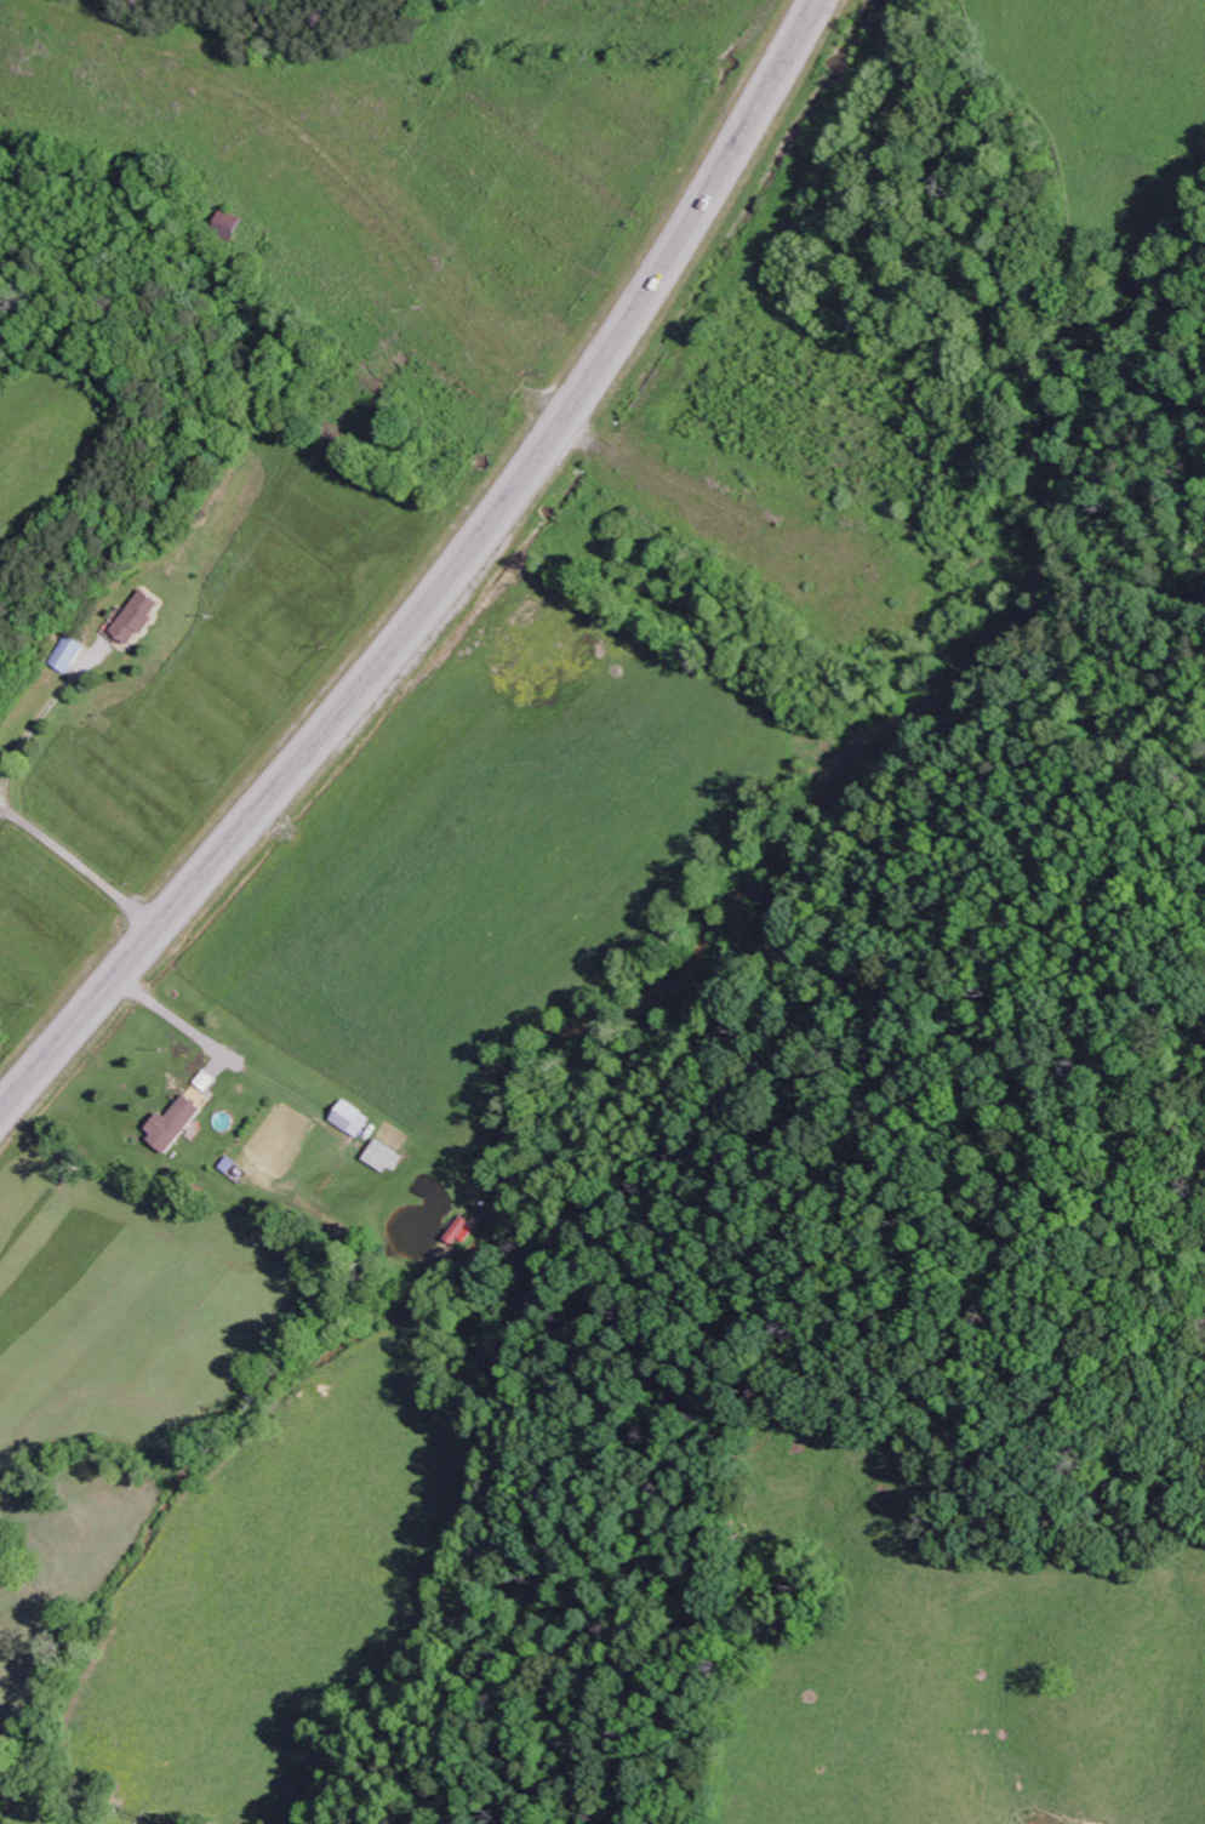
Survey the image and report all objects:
building: (227, 224)
road: (446, 586)
building: (135, 617)
building: (65, 654)
building: (205, 1081)
building: (353, 1118)
building: (173, 1124)
building: (464, 1231)

